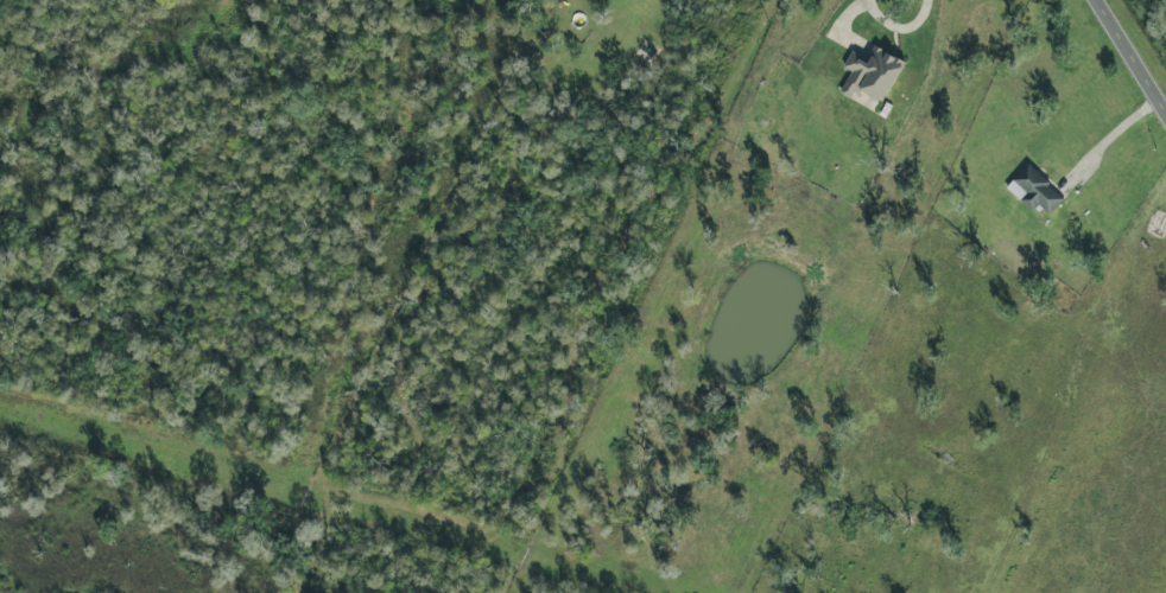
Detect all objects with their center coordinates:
road: (847, 11)
road: (1129, 57)
building: (872, 74)
road: (1107, 134)
building: (1035, 190)

